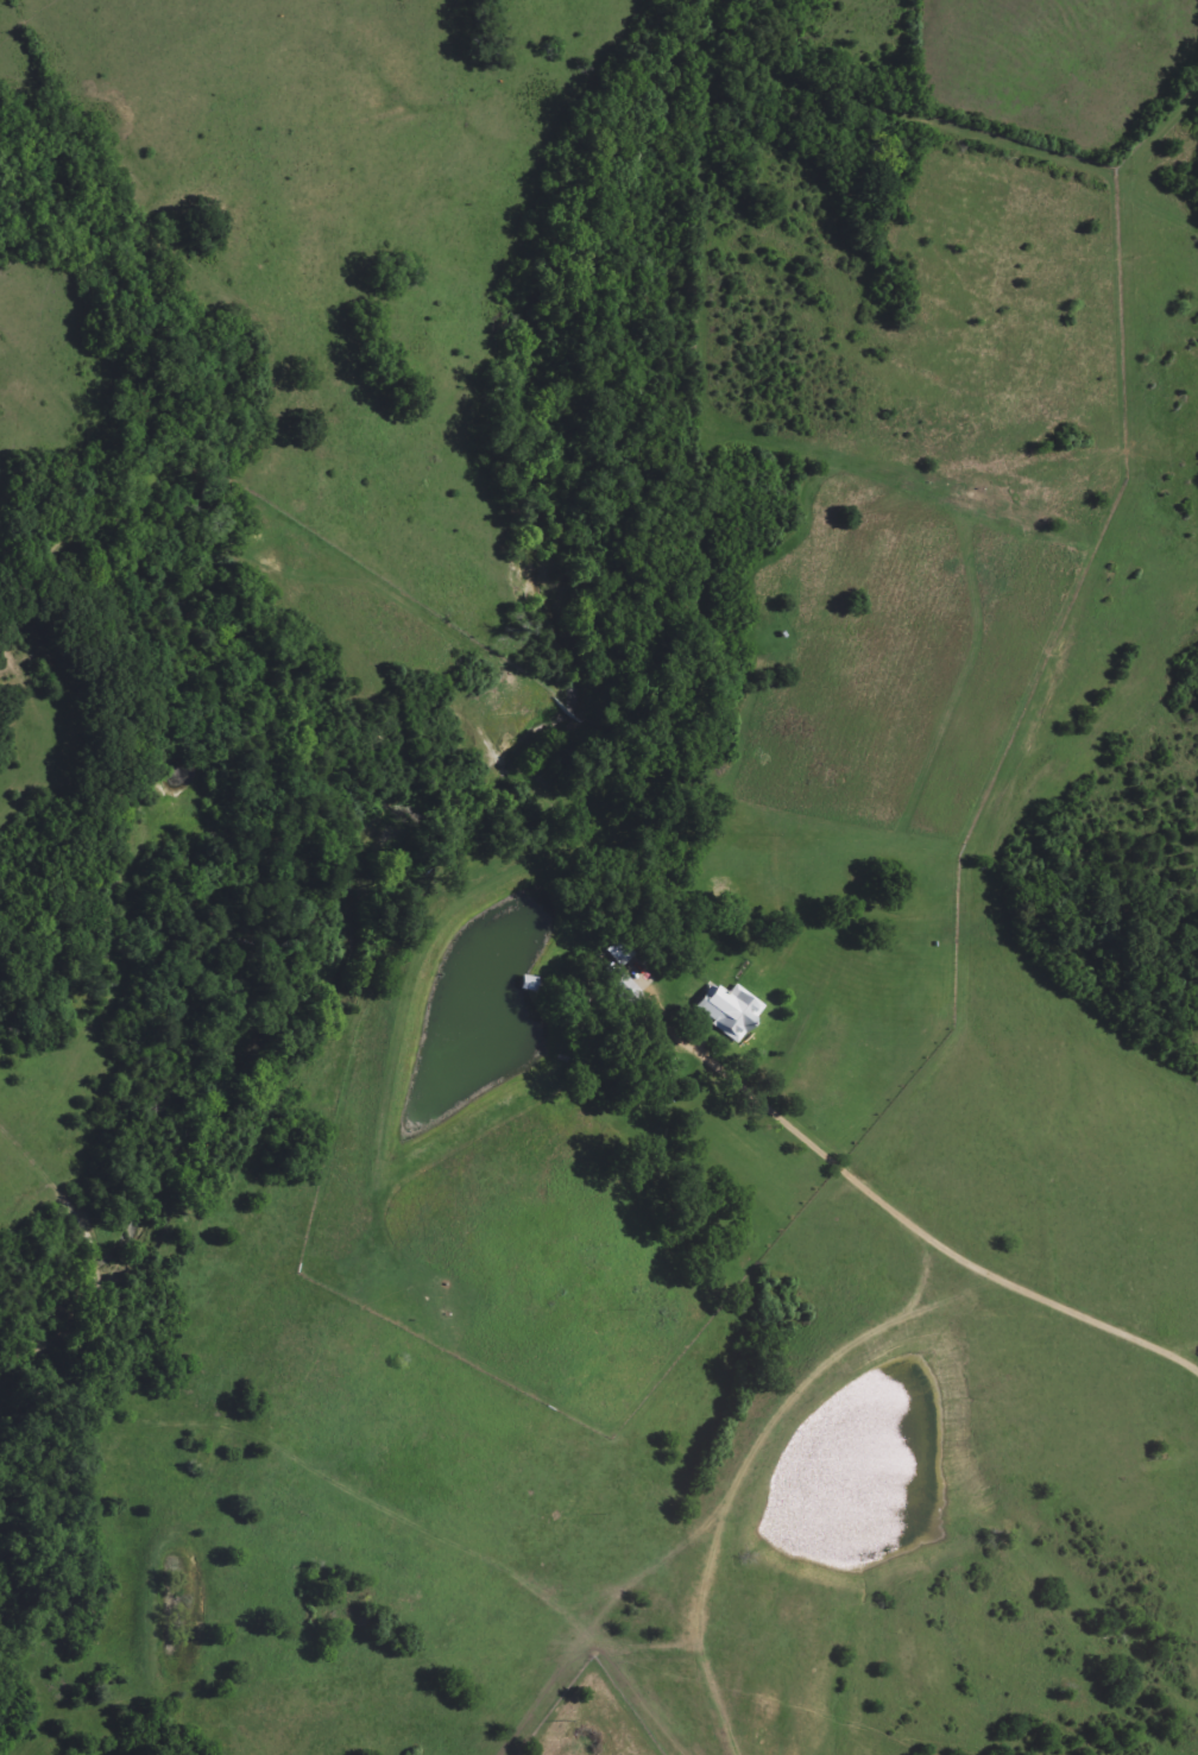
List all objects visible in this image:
building: (618, 951)
building: (618, 984)
building: (729, 1010)

